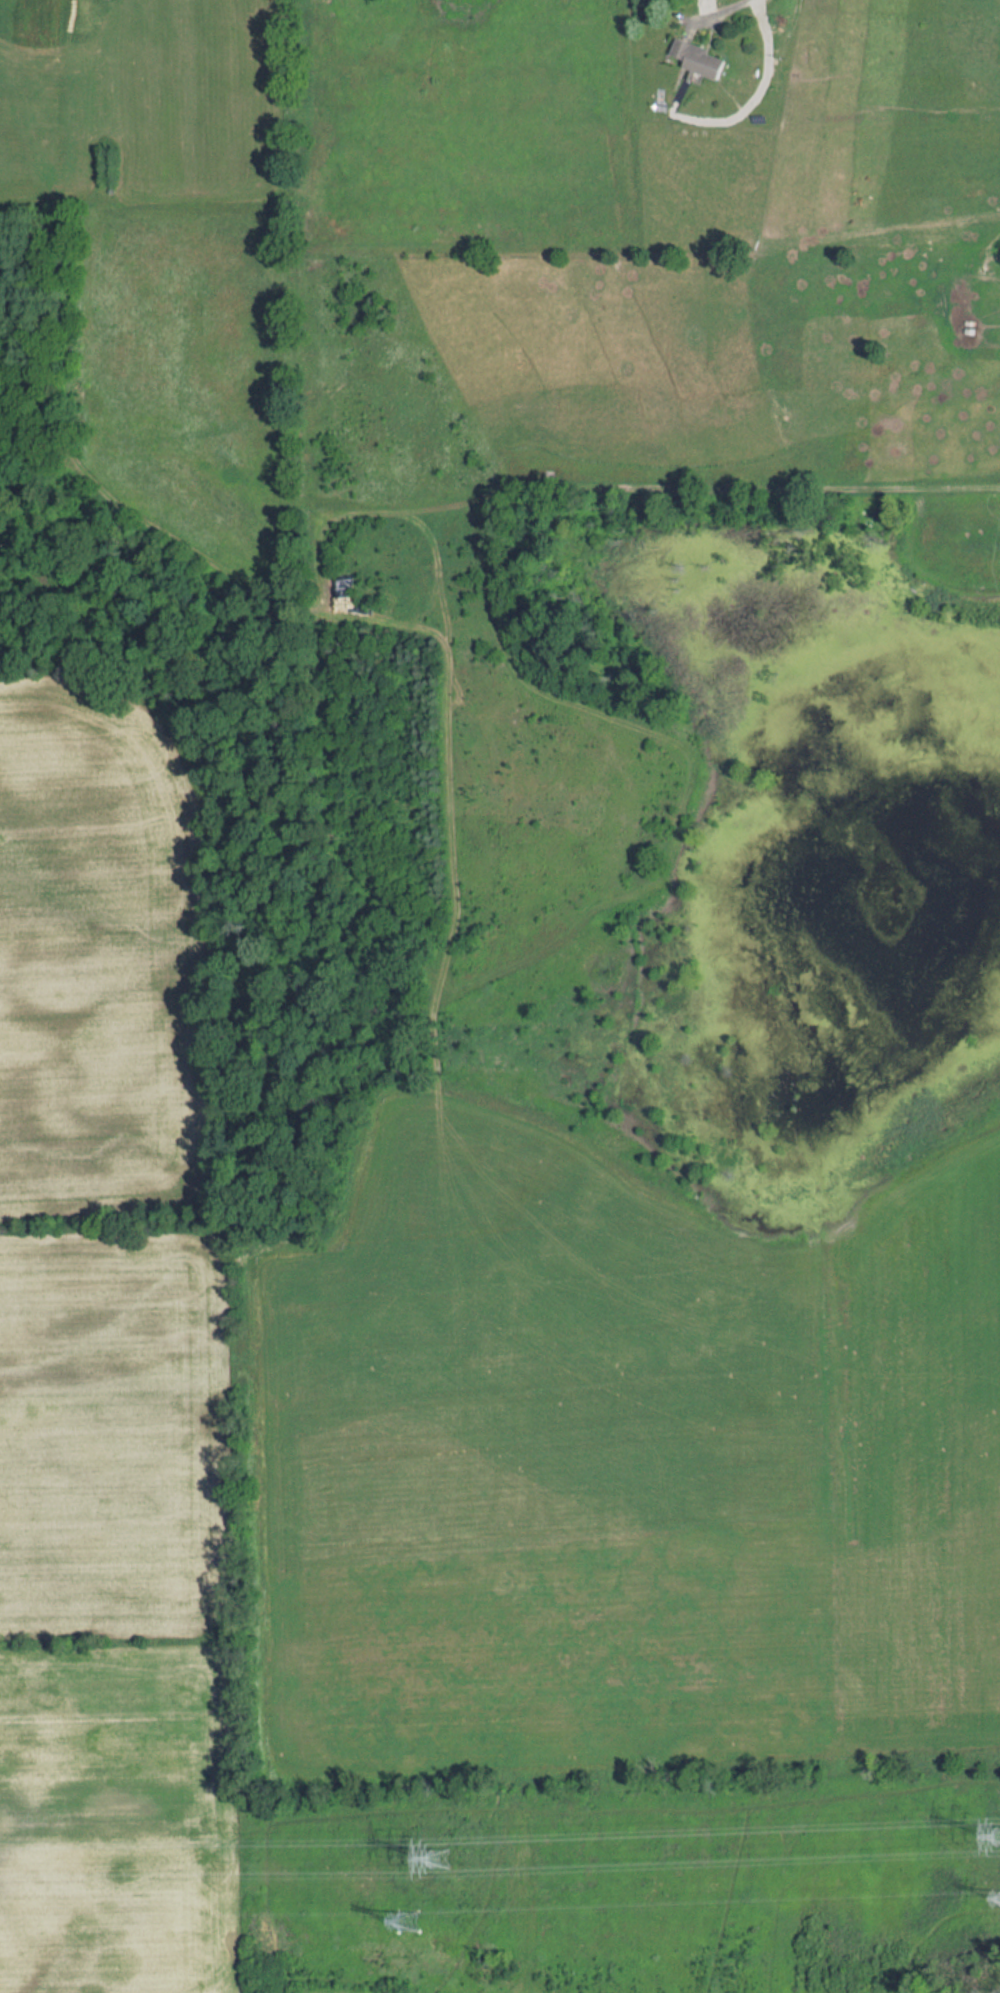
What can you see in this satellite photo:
road: (722, 11)
building: (705, 60)
power tower: (999, 1835)
power tower: (436, 1859)
power tower: (447, 1920)

